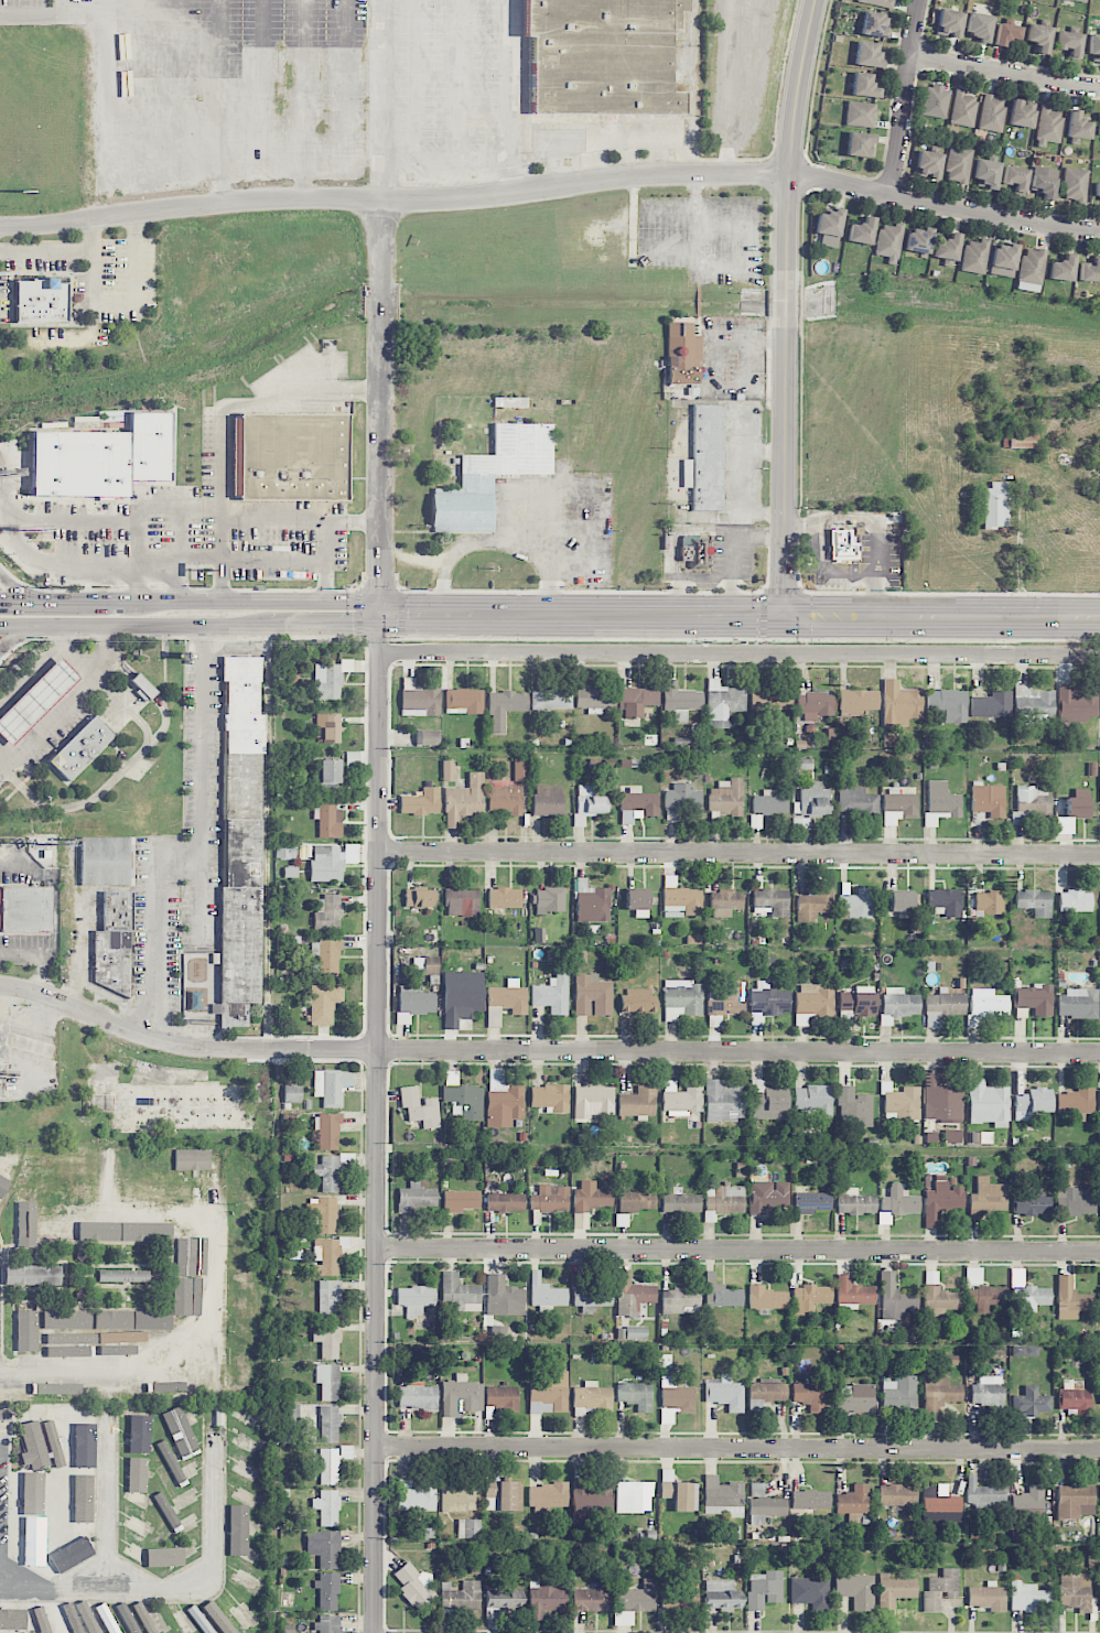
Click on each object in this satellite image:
building: (1080, 0)
building: (877, 2)
road: (69, 7)
building: (949, 23)
building: (874, 24)
building: (979, 25)
building: (1006, 33)
building: (1039, 36)
building: (1069, 43)
building: (1094, 47)
building: (867, 54)
building: (603, 55)
road: (1006, 74)
building: (863, 85)
road: (507, 97)
road: (906, 98)
road: (380, 100)
building: (936, 101)
building: (962, 108)
building: (992, 112)
building: (860, 113)
building: (1021, 115)
building: (1099, 123)
road: (101, 125)
building: (1048, 126)
building: (1078, 126)
road: (604, 134)
building: (860, 144)
road: (590, 160)
building: (929, 163)
building: (958, 164)
building: (986, 174)
building: (1015, 177)
building: (1044, 182)
road: (583, 185)
building: (1075, 185)
building: (1097, 190)
road: (942, 205)
road: (190, 210)
building: (829, 227)
building: (862, 230)
building: (918, 240)
building: (888, 242)
building: (947, 247)
road: (61, 251)
building: (974, 256)
building: (1003, 259)
building: (1063, 268)
building: (1031, 269)
building: (1090, 271)
building: (41, 300)
road: (130, 300)
road: (786, 306)
building: (683, 354)
road: (380, 408)
road: (219, 421)
building: (1021, 440)
building: (291, 455)
building: (103, 458)
building: (705, 458)
building: (492, 475)
road: (572, 480)
road: (509, 491)
building: (994, 504)
road: (273, 520)
road: (328, 534)
building: (842, 542)
road: (468, 544)
building: (694, 551)
road: (1020, 554)
road: (103, 564)
road: (179, 582)
road: (139, 583)
road: (14, 591)
road: (15, 599)
road: (86, 601)
road: (261, 601)
traffic signals: (379, 615)
road: (582, 615)
traffic signals: (785, 616)
road: (942, 616)
road: (136, 625)
road: (326, 626)
road: (18, 635)
road: (84, 653)
road: (740, 653)
road: (46, 667)
road: (37, 670)
road: (57, 679)
building: (330, 679)
road: (32, 680)
building: (143, 688)
road: (69, 692)
road: (43, 693)
road: (15, 697)
building: (590, 697)
building: (419, 699)
building: (551, 699)
building: (35, 700)
gas station: (35, 700)
building: (681, 700)
building: (770, 700)
road: (66, 701)
building: (637, 701)
building: (858, 702)
building: (1077, 702)
building: (723, 703)
building: (815, 704)
building: (899, 704)
building: (948, 704)
building: (991, 704)
building: (1032, 705)
road: (55, 706)
building: (505, 707)
road: (26, 710)
road: (1, 714)
road: (39, 724)
road: (11, 725)
building: (328, 727)
building: (427, 737)
road: (23, 739)
building: (82, 747)
road: (3, 758)
building: (352, 758)
building: (520, 769)
building: (447, 770)
road: (115, 776)
building: (331, 776)
building: (726, 797)
building: (682, 798)
building: (464, 799)
building: (505, 799)
building: (988, 799)
building: (1099, 799)
building: (548, 800)
building: (858, 800)
building: (1032, 800)
building: (421, 802)
building: (940, 802)
building: (587, 803)
building: (768, 803)
building: (1078, 803)
building: (637, 804)
building: (810, 804)
building: (898, 808)
building: (328, 820)
building: (240, 839)
road: (199, 850)
building: (285, 851)
road: (738, 853)
building: (107, 861)
building: (326, 863)
building: (621, 897)
building: (419, 898)
building: (504, 898)
building: (550, 899)
building: (680, 899)
building: (770, 900)
building: (901, 900)
building: (946, 900)
building: (1075, 900)
building: (637, 901)
building: (856, 901)
building: (1034, 901)
building: (462, 902)
building: (592, 902)
building: (725, 902)
building: (988, 902)
building: (812, 904)
building: (25, 908)
building: (327, 912)
building: (114, 943)
road: (41, 954)
building: (425, 965)
building: (552, 993)
building: (592, 995)
building: (461, 996)
building: (681, 998)
building: (729, 998)
building: (1034, 998)
building: (768, 999)
building: (505, 1001)
building: (637, 1002)
building: (856, 1002)
building: (899, 1002)
building: (324, 1003)
building: (413, 1003)
building: (812, 1003)
building: (1078, 1003)
road: (14, 1004)
building: (945, 1004)
building: (1, 1041)
road: (543, 1052)
building: (2, 1080)
building: (331, 1085)
building: (292, 1093)
building: (549, 1097)
building: (681, 1099)
building: (942, 1100)
building: (464, 1101)
building: (502, 1101)
building: (593, 1101)
building: (723, 1101)
building: (767, 1101)
building: (811, 1101)
building: (638, 1102)
building: (901, 1102)
building: (988, 1103)
building: (1031, 1103)
building: (1076, 1103)
building: (419, 1106)
building: (853, 1107)
road: (376, 1123)
building: (327, 1132)
building: (953, 1135)
building: (69, 1155)
building: (17, 1159)
building: (192, 1159)
building: (110, 1168)
building: (330, 1170)
building: (168, 1177)
building: (205, 1190)
building: (6, 1192)
building: (149, 1196)
building: (767, 1196)
building: (416, 1197)
building: (590, 1197)
building: (988, 1197)
building: (1099, 1197)
building: (550, 1199)
building: (941, 1199)
building: (461, 1200)
building: (635, 1201)
building: (723, 1201)
building: (898, 1201)
building: (1076, 1201)
building: (505, 1202)
building: (681, 1202)
building: (810, 1202)
building: (1031, 1203)
building: (855, 1204)
building: (323, 1213)
building: (122, 1220)
building: (622, 1220)
building: (25, 1224)
building: (170, 1225)
building: (56, 1231)
building: (100, 1234)
road: (737, 1252)
building: (183, 1253)
building: (327, 1255)
building: (32, 1275)
building: (123, 1275)
building: (198, 1276)
building: (1027, 1290)
building: (227, 1291)
building: (853, 1291)
building: (460, 1293)
building: (546, 1293)
building: (721, 1293)
building: (182, 1296)
building: (328, 1297)
building: (503, 1297)
building: (809, 1297)
building: (986, 1297)
building: (592, 1298)
building: (634, 1298)
building: (766, 1298)
building: (895, 1298)
building: (416, 1299)
building: (1071, 1299)
building: (680, 1300)
building: (940, 1301)
building: (67, 1319)
building: (114, 1319)
building: (154, 1320)
building: (633, 1332)
building: (21, 1333)
building: (327, 1340)
building: (1024, 1350)
building: (145, 1353)
road: (166, 1363)
building: (122, 1364)
building: (226, 1365)
building: (212, 1370)
building: (194, 1373)
building: (327, 1382)
building: (63, 1391)
building: (547, 1391)
building: (988, 1391)
building: (17, 1392)
building: (765, 1392)
building: (724, 1393)
building: (635, 1394)
building: (899, 1394)
building: (939, 1394)
building: (417, 1395)
building: (809, 1395)
building: (460, 1396)
building: (1075, 1396)
building: (591, 1397)
building: (856, 1397)
building: (499, 1399)
building: (675, 1399)
building: (1029, 1402)
building: (4, 1416)
building: (289, 1423)
building: (328, 1424)
building: (139, 1437)
building: (40, 1445)
building: (84, 1449)
road: (737, 1449)
building: (161, 1457)
building: (332, 1462)
building: (136, 1484)
building: (722, 1492)
building: (32, 1494)
building: (680, 1494)
building: (897, 1494)
building: (490, 1495)
building: (509, 1495)
building: (983, 1495)
building: (84, 1496)
building: (414, 1496)
building: (633, 1496)
building: (810, 1500)
building: (853, 1500)
building: (1074, 1500)
road: (107, 1501)
building: (592, 1503)
building: (764, 1504)
building: (940, 1504)
building: (1028, 1504)
building: (326, 1506)
building: (244, 1513)
building: (468, 1528)
building: (133, 1529)
building: (30, 1539)
building: (239, 1540)
building: (324, 1547)
building: (68, 1556)
building: (240, 1568)
building: (413, 1583)
road: (180, 1588)
building: (764, 1589)
building: (895, 1589)
building: (940, 1589)
building: (327, 1590)
building: (855, 1590)
building: (1076, 1591)
building: (810, 1592)
building: (461, 1594)
building: (682, 1594)
building: (721, 1594)
building: (637, 1597)
building: (986, 1597)
building: (1028, 1597)
building: (593, 1598)
building: (546, 1599)
building: (502, 1601)
building: (240, 1603)
building: (622, 1618)
building: (228, 1619)
building: (15, 1620)
building: (42, 1620)
building: (326, 1623)
building: (215, 1625)
building: (110, 1629)

